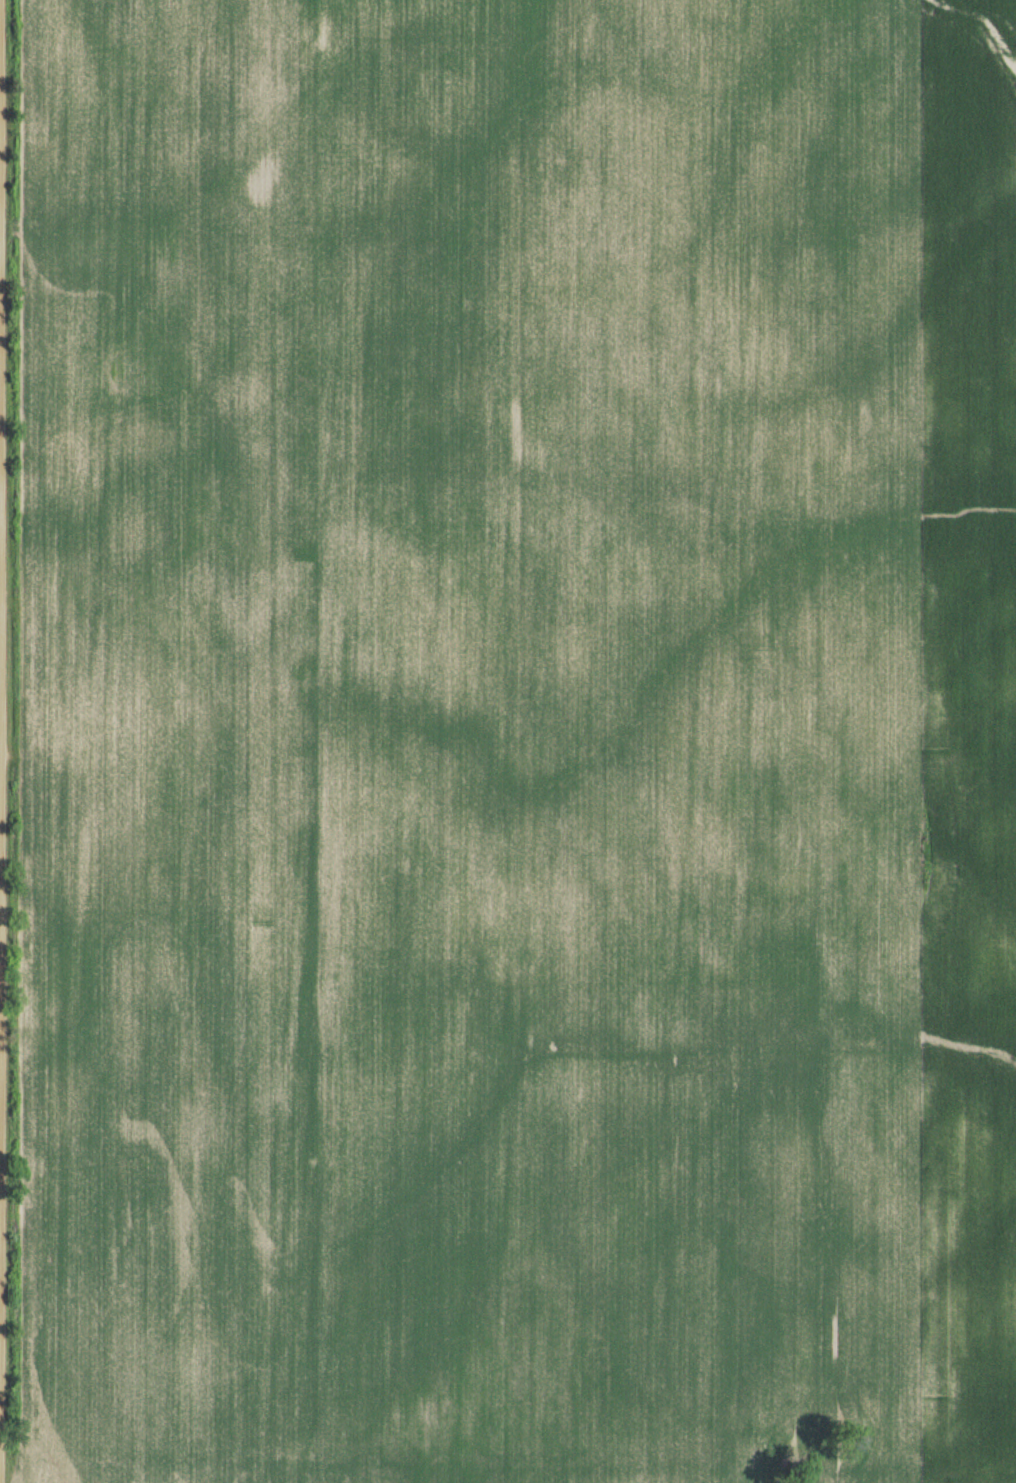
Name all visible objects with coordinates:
road: (3, 500)

